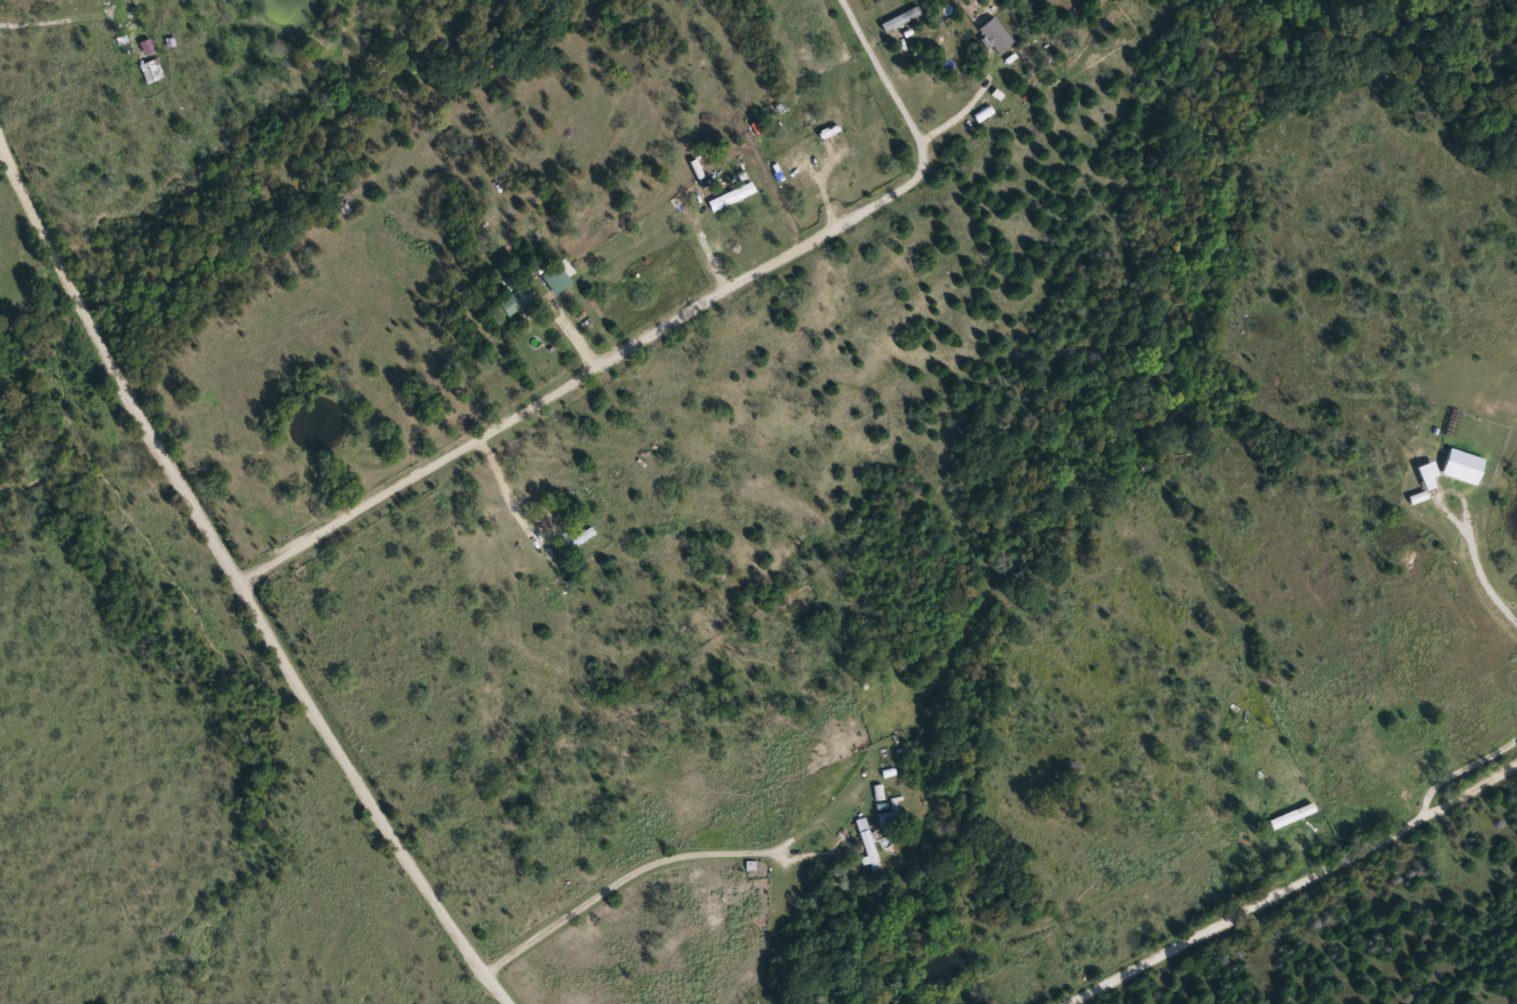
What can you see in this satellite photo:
road: (884, 74)
building: (729, 179)
road: (28, 271)
building: (556, 277)
road: (671, 314)
road: (569, 323)
building: (1230, 454)
road: (509, 488)
building: (548, 514)
building: (576, 539)
road: (240, 577)
building: (888, 817)
building: (869, 845)
road: (645, 859)
road: (1289, 882)

